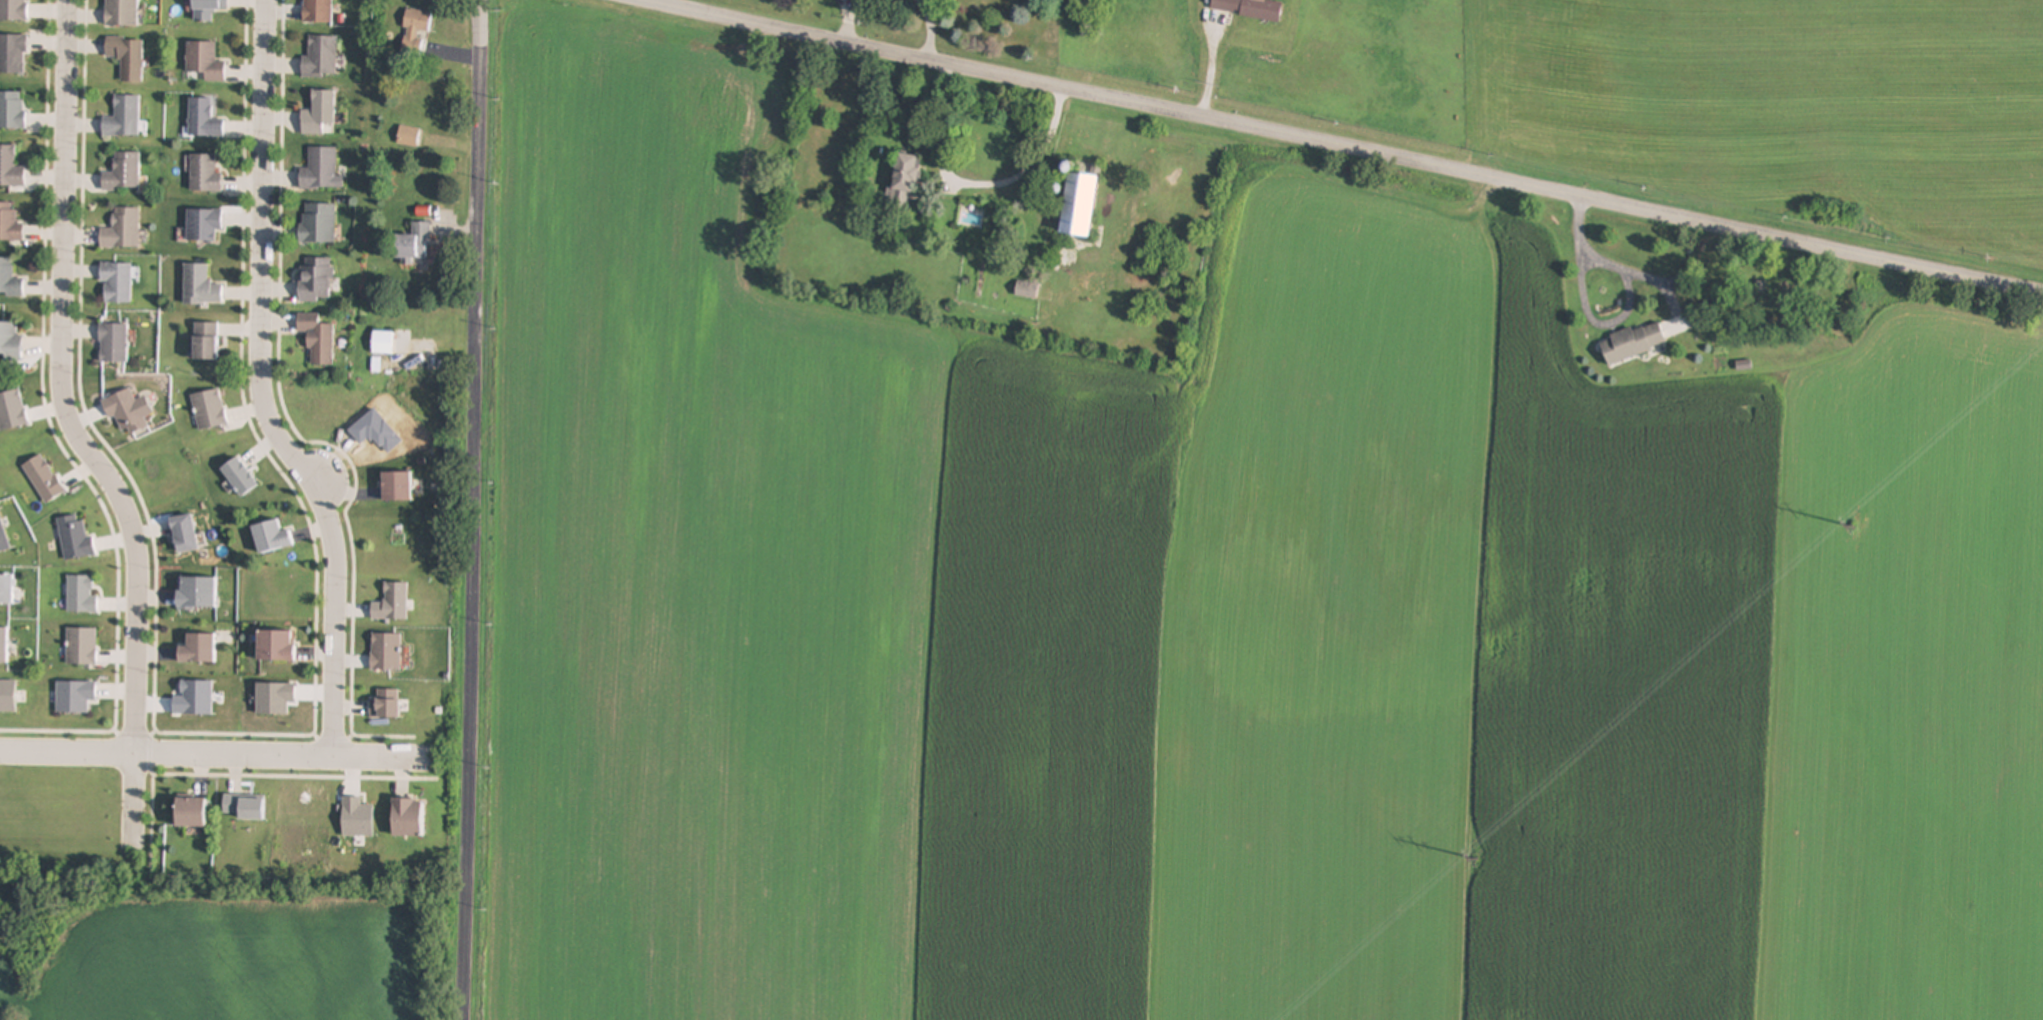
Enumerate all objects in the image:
building: (208, 9)
building: (1249, 9)
building: (13, 10)
building: (318, 11)
building: (121, 13)
building: (416, 31)
building: (13, 55)
building: (127, 57)
building: (321, 58)
building: (205, 61)
building: (12, 110)
building: (319, 113)
building: (124, 117)
building: (204, 119)
building: (410, 137)
road: (1348, 145)
building: (10, 169)
building: (320, 170)
building: (124, 173)
building: (205, 173)
road: (973, 177)
building: (906, 178)
building: (1081, 203)
building: (10, 224)
building: (318, 224)
building: (204, 225)
building: (123, 229)
building: (415, 243)
building: (9, 280)
building: (315, 280)
building: (117, 283)
building: (200, 286)
building: (1027, 291)
road: (1591, 322)
building: (318, 339)
building: (10, 342)
building: (207, 342)
building: (383, 343)
building: (1634, 343)
building: (115, 344)
road: (263, 389)
road: (77, 438)
building: (398, 486)
road: (476, 509)
power tower: (1854, 527)
building: (271, 537)
power tower: (1893, 577)
building: (7, 590)
building: (196, 594)
building: (4, 646)
building: (275, 647)
building: (198, 650)
road: (213, 758)
building: (244, 807)
building: (191, 813)
building: (408, 818)
park: (61, 826)
power tower: (1478, 861)
power tower: (1567, 865)
crop: (226, 955)

